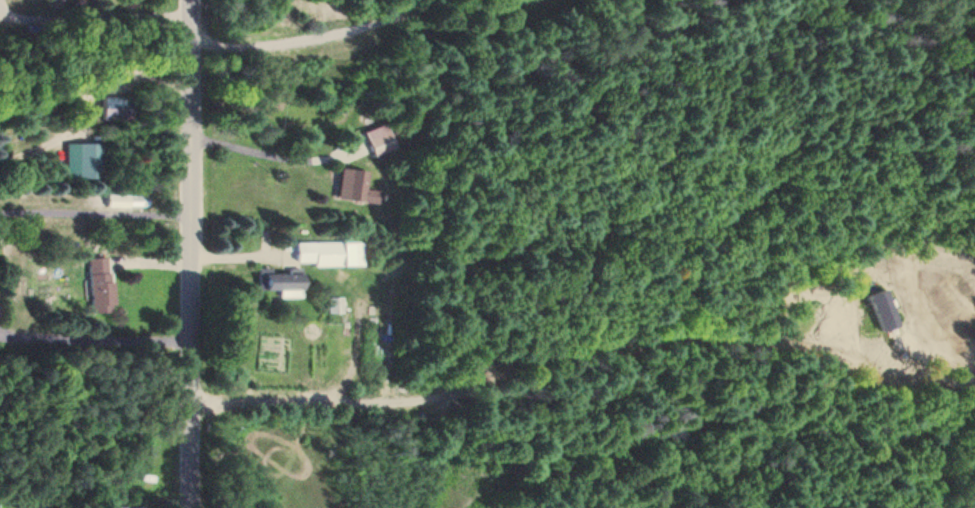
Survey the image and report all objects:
road: (97, 19)
road: (388, 33)
building: (147, 102)
road: (102, 106)
building: (113, 109)
building: (376, 141)
building: (81, 162)
building: (352, 189)
road: (119, 196)
road: (195, 254)
road: (129, 258)
building: (261, 269)
building: (97, 285)
building: (333, 306)
road: (157, 458)
building: (122, 507)

